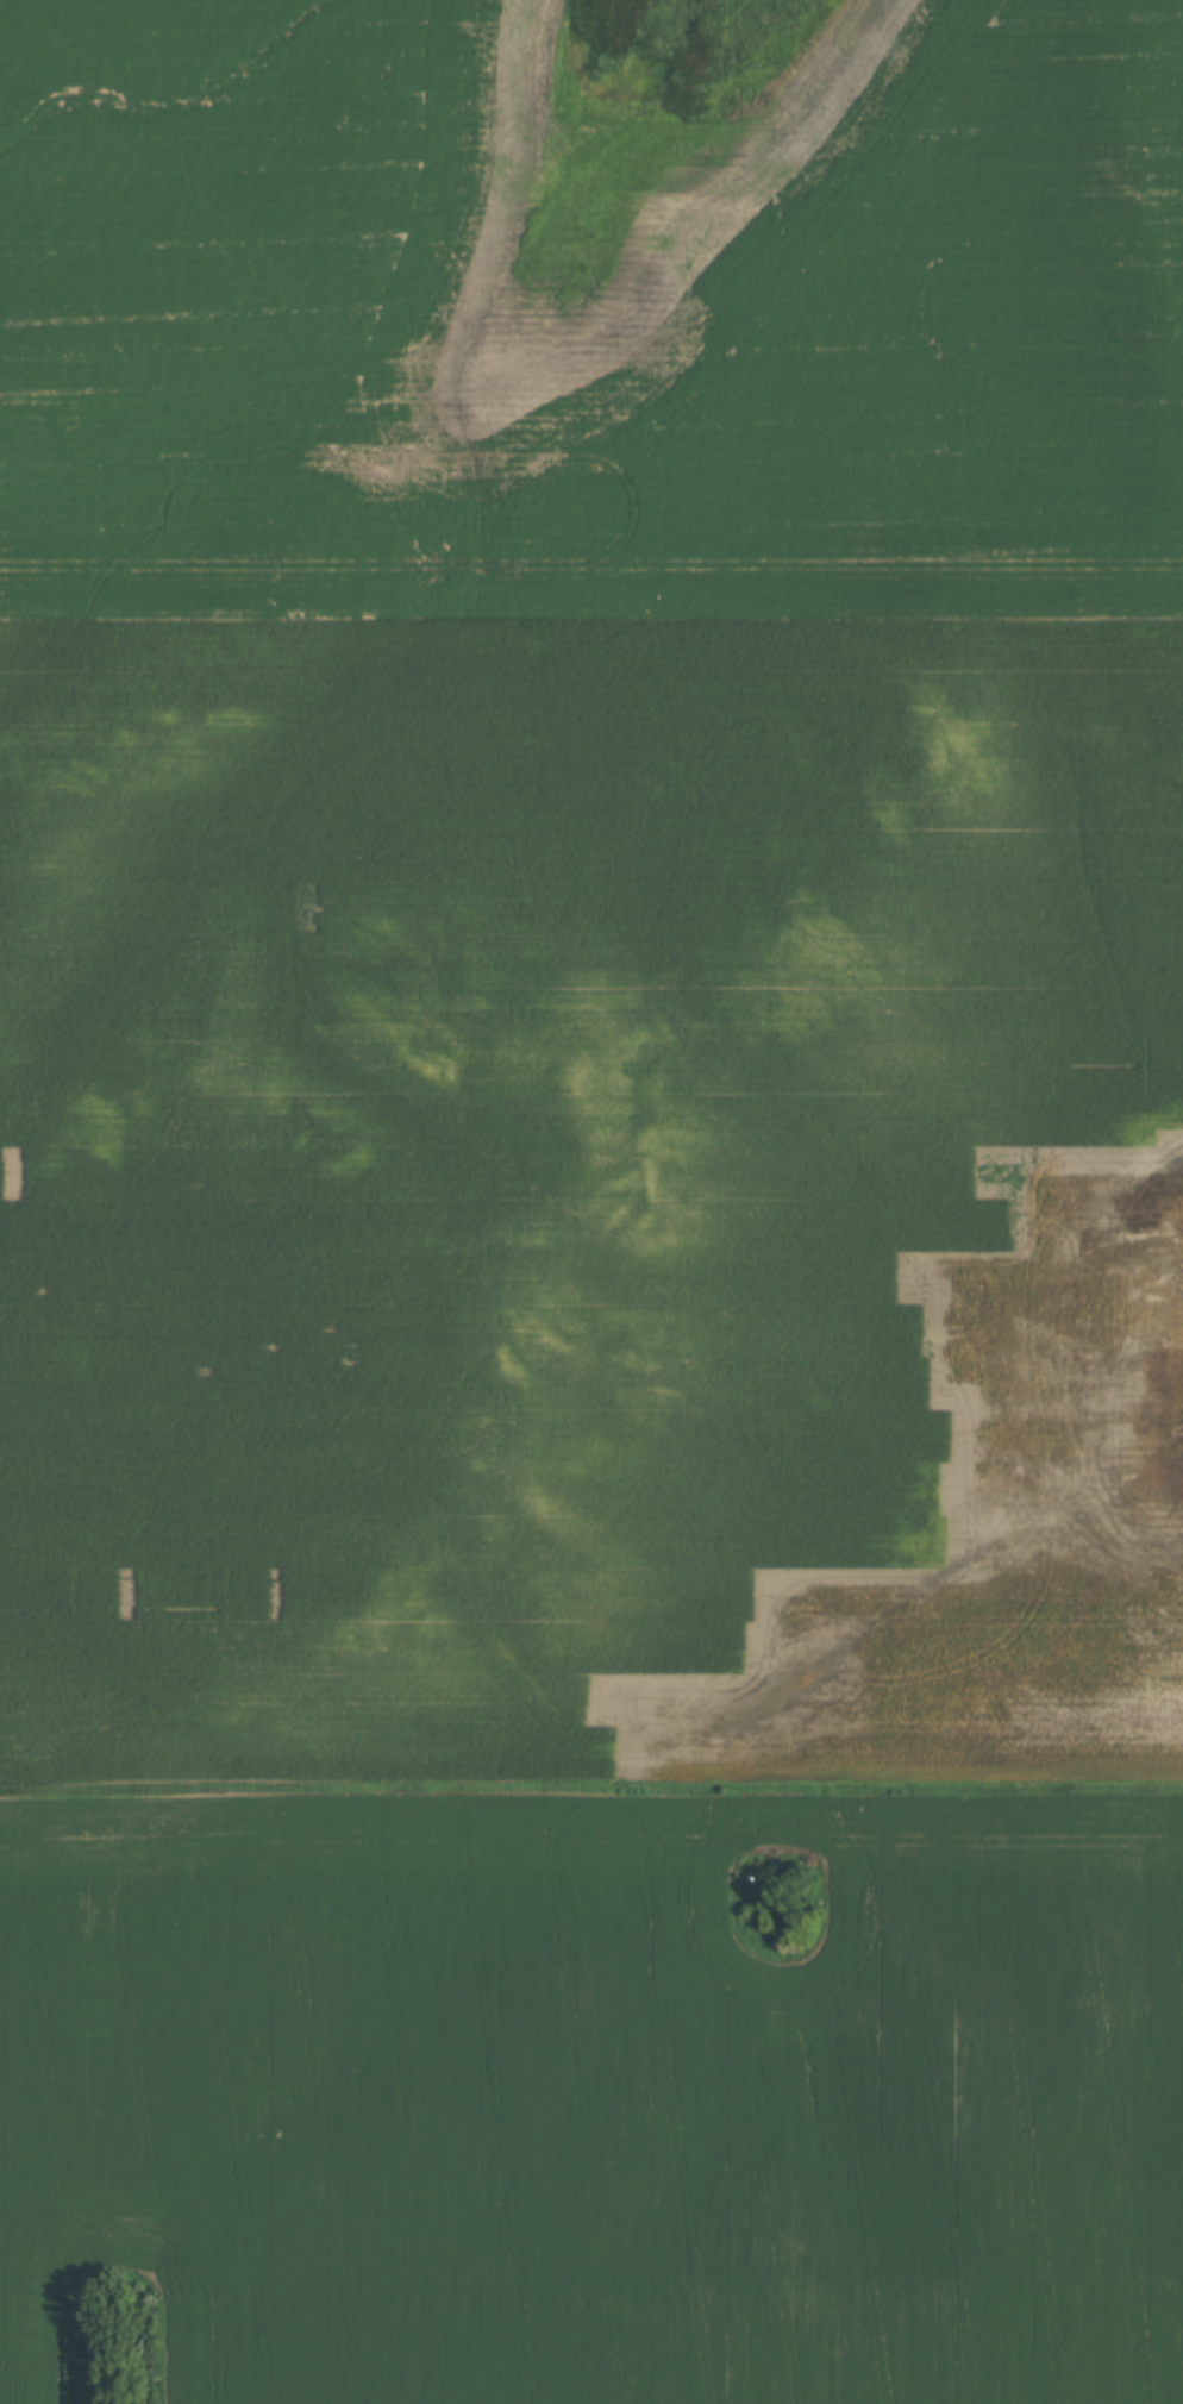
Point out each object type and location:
crop: (588, 915)
crop: (595, 2099)

